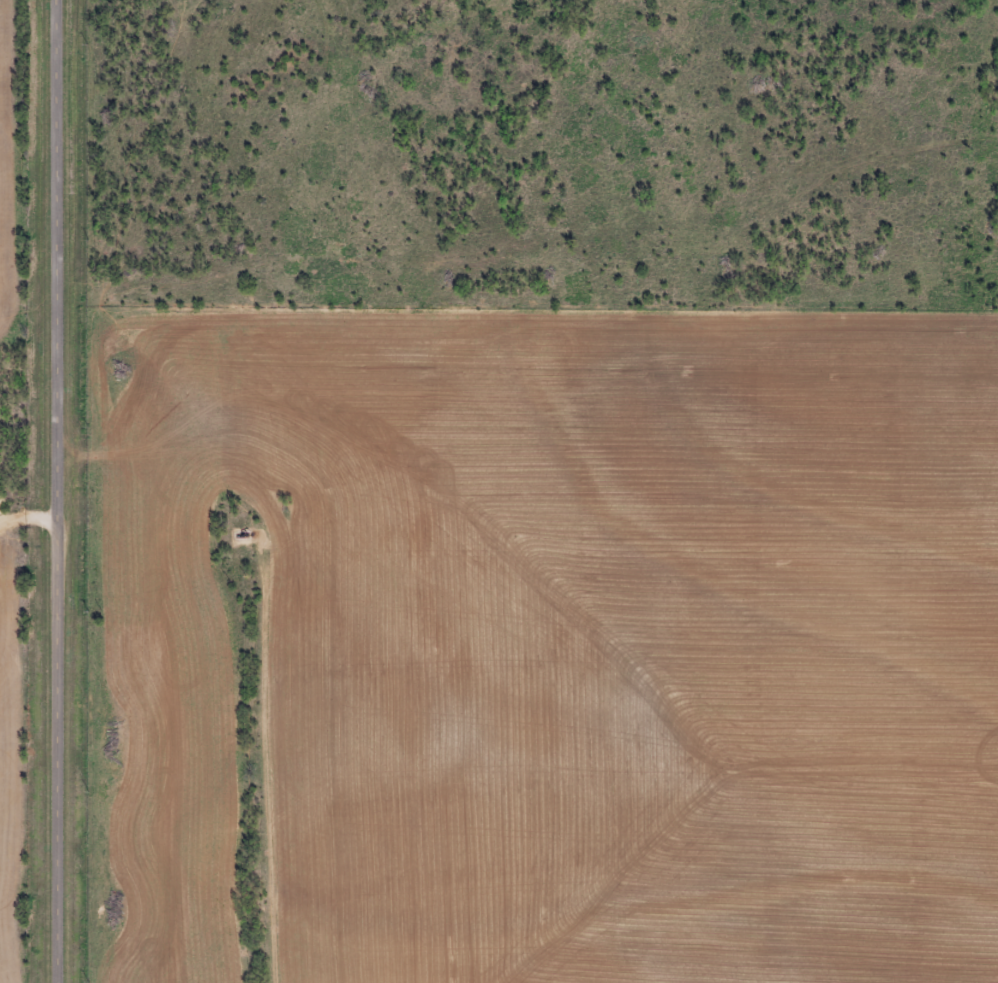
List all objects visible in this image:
road: (53, 491)
road: (27, 549)
road: (262, 980)

